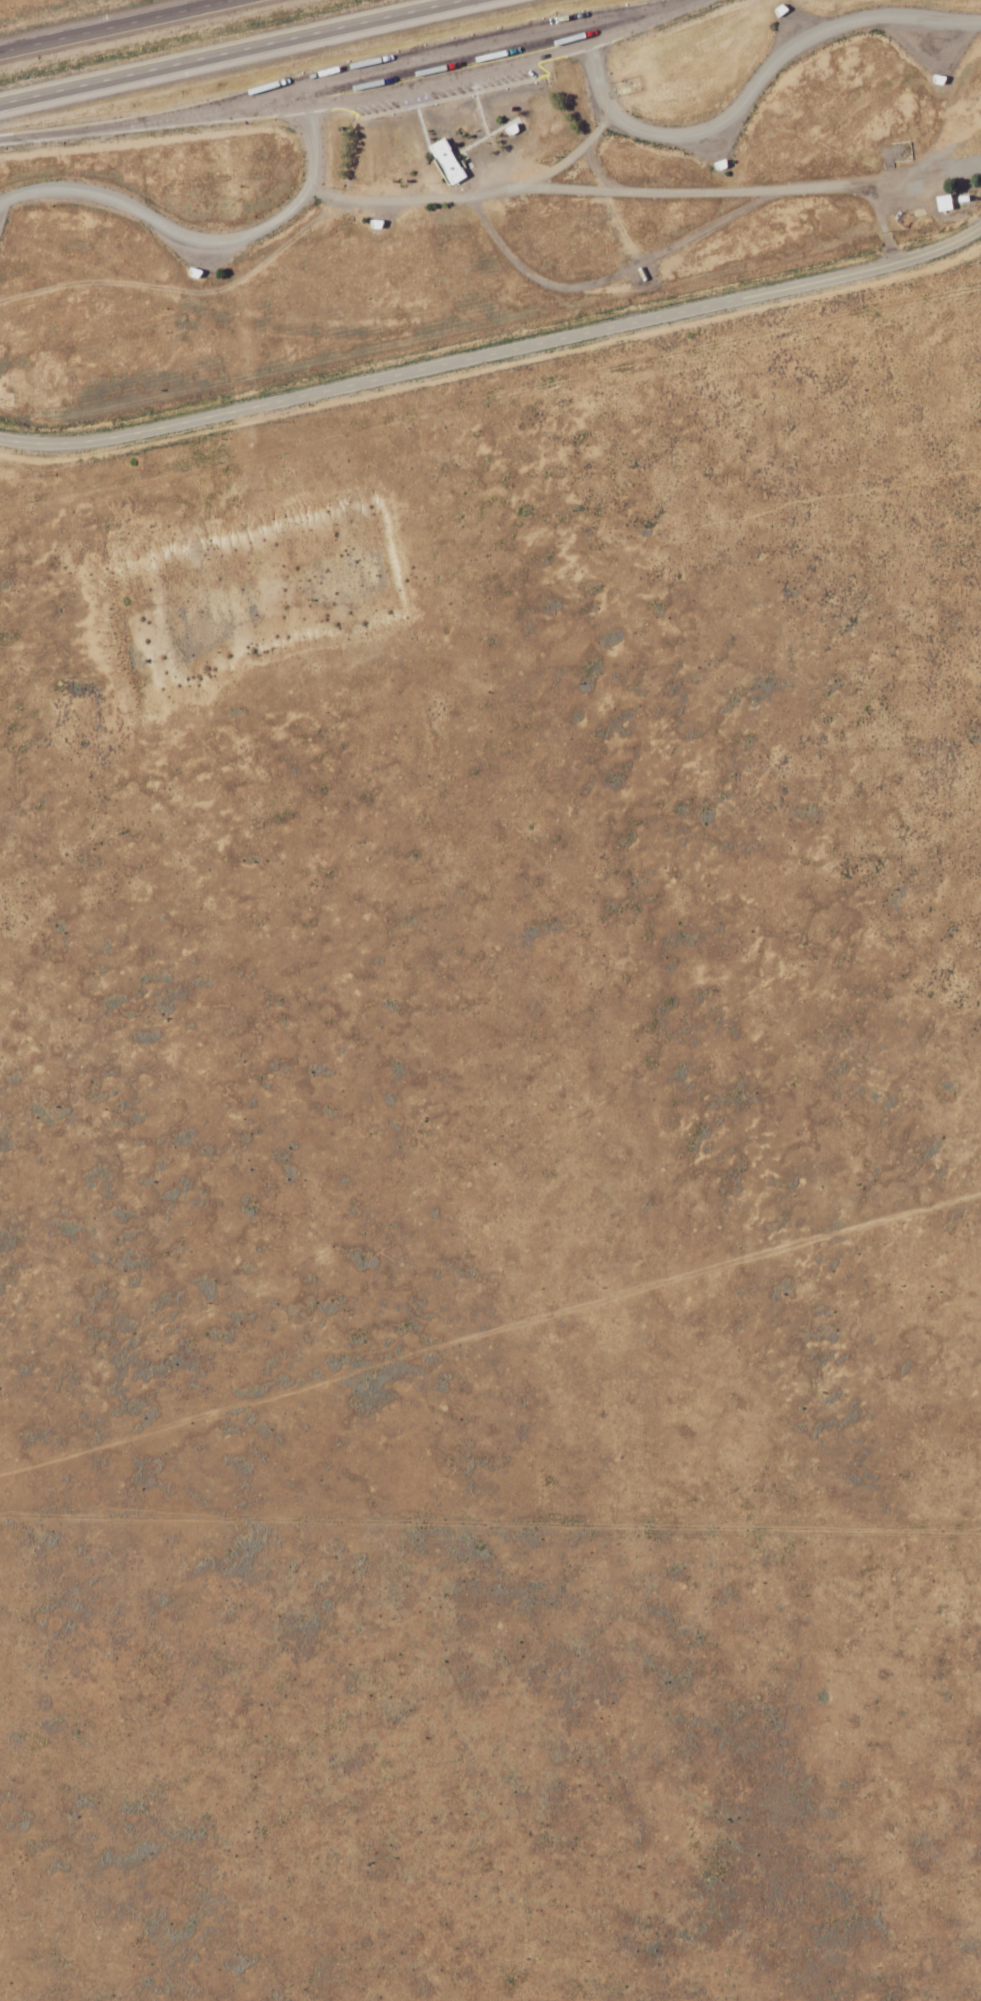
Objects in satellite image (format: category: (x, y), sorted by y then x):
road: (119, 26)
road: (454, 48)
road: (229, 51)
parking lot: (448, 66)
road: (471, 72)
road: (752, 83)
road: (121, 126)
building: (443, 161)
building: (462, 165)
road: (692, 195)
road: (471, 198)
road: (225, 237)
road: (493, 358)

